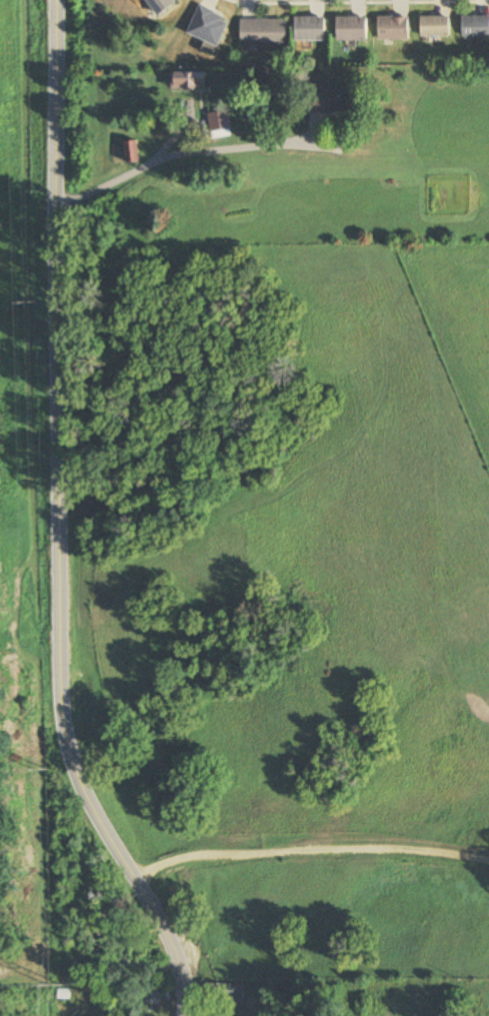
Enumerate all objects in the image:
building: (162, 5)
building: (209, 26)
building: (436, 26)
building: (475, 26)
building: (394, 27)
building: (352, 28)
building: (310, 29)
building: (264, 32)
building: (189, 80)
building: (334, 99)
building: (219, 120)
building: (132, 151)
power tower: (25, 303)
road: (59, 520)
power tower: (50, 773)
road: (306, 850)
building: (226, 994)
building: (160, 995)

